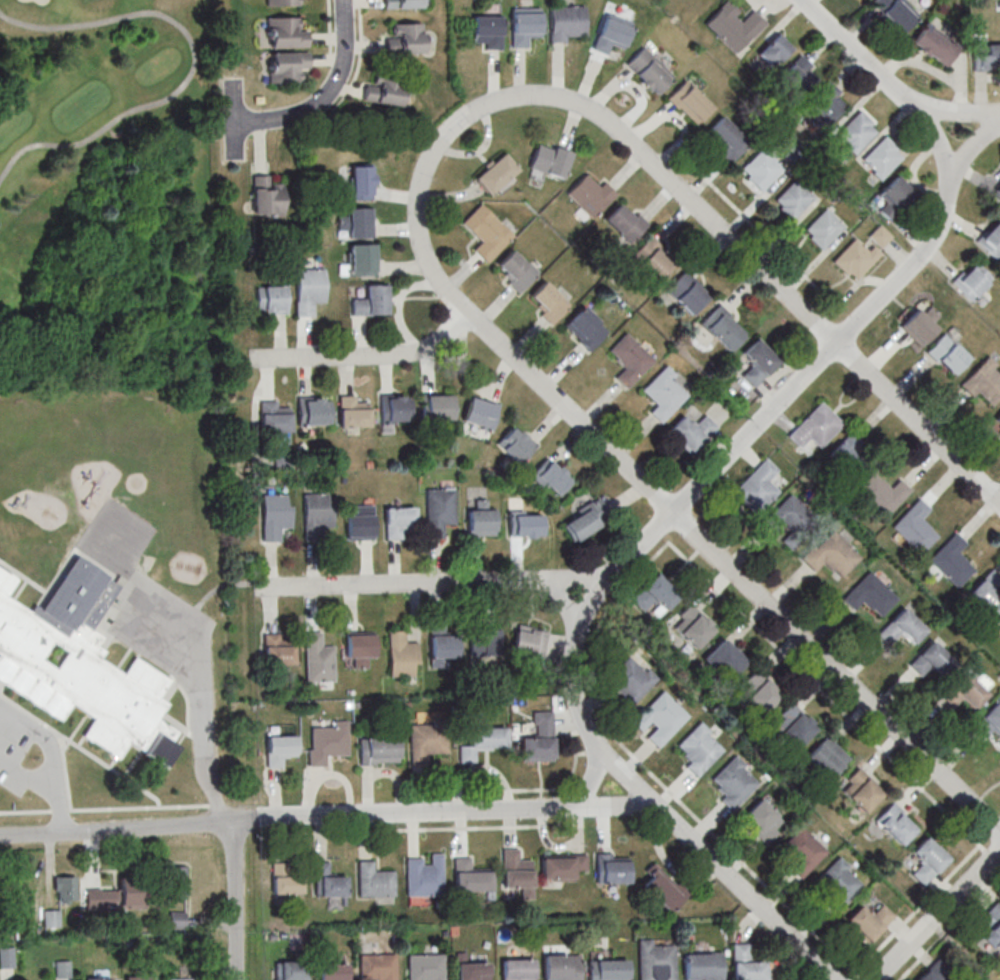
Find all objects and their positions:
building: (281, 2)
building: (402, 4)
building: (895, 13)
building: (568, 22)
building: (525, 25)
building: (734, 25)
road: (329, 29)
building: (487, 31)
building: (285, 33)
building: (612, 34)
building: (405, 38)
building: (935, 45)
building: (773, 50)
building: (986, 56)
road: (338, 59)
road: (359, 65)
building: (287, 66)
building: (649, 70)
road: (194, 71)
building: (799, 75)
road: (890, 81)
building: (385, 89)
road: (325, 98)
building: (690, 102)
building: (825, 103)
road: (956, 110)
building: (856, 132)
building: (727, 138)
building: (881, 157)
building: (550, 160)
building: (761, 168)
building: (495, 173)
road: (705, 178)
building: (362, 181)
park: (107, 192)
building: (996, 192)
building: (590, 195)
building: (894, 196)
building: (266, 197)
building: (792, 198)
building: (357, 223)
building: (823, 228)
building: (485, 232)
road: (763, 234)
building: (991, 240)
building: (653, 258)
building: (854, 258)
building: (361, 260)
building: (516, 270)
building: (972, 280)
road: (782, 286)
building: (308, 289)
road: (851, 290)
building: (687, 292)
building: (272, 299)
building: (372, 301)
building: (548, 302)
building: (919, 325)
building: (724, 327)
building: (585, 328)
building: (948, 354)
road: (366, 356)
building: (629, 359)
building: (758, 362)
building: (984, 381)
building: (663, 393)
building: (437, 406)
building: (395, 408)
building: (314, 411)
building: (353, 412)
building: (480, 413)
building: (274, 417)
building: (997, 421)
building: (816, 427)
building: (692, 431)
building: (516, 444)
building: (846, 459)
road: (620, 460)
building: (551, 477)
road: (697, 486)
building: (756, 487)
building: (881, 494)
building: (439, 510)
building: (315, 515)
building: (274, 516)
building: (481, 519)
building: (586, 519)
building: (398, 521)
building: (359, 522)
building: (790, 522)
building: (526, 524)
building: (914, 527)
building: (830, 555)
building: (951, 560)
building: (654, 594)
building: (869, 594)
building: (986, 596)
building: (691, 625)
building: (999, 625)
building: (900, 628)
building: (528, 640)
building: (484, 644)
building: (444, 646)
building: (359, 647)
building: (278, 649)
building: (402, 655)
building: (318, 659)
building: (722, 660)
building: (931, 660)
building: (81, 666)
road: (798, 669)
building: (628, 681)
building: (962, 690)
building: (758, 694)
road: (201, 711)
building: (659, 717)
building: (988, 721)
building: (794, 725)
road: (42, 736)
building: (538, 738)
building: (425, 739)
building: (327, 742)
building: (479, 743)
building: (698, 748)
building: (280, 750)
building: (378, 750)
building: (827, 756)
road: (590, 780)
road: (44, 782)
building: (733, 782)
building: (859, 790)
road: (651, 799)
road: (138, 807)
road: (25, 810)
road: (60, 810)
road: (326, 813)
building: (760, 820)
building: (894, 823)
building: (802, 851)
building: (926, 860)
building: (561, 866)
building: (610, 868)
building: (514, 869)
building: (423, 876)
building: (469, 876)
building: (283, 879)
building: (373, 880)
building: (326, 881)
building: (177, 882)
building: (837, 883)
building: (663, 888)
building: (65, 889)
building: (131, 894)
road: (236, 898)
building: (99, 900)
road: (923, 901)
road: (938, 915)
building: (51, 918)
building: (868, 920)
building: (991, 923)
road: (949, 927)
building: (6, 957)
building: (656, 962)
building: (746, 963)
building: (703, 966)
building: (376, 967)
building: (425, 967)
building: (560, 967)
building: (63, 969)
building: (516, 969)
building: (607, 969)
building: (290, 970)
building: (473, 971)
building: (934, 971)
building: (333, 972)
building: (97, 978)
building: (138, 978)
building: (181, 979)

